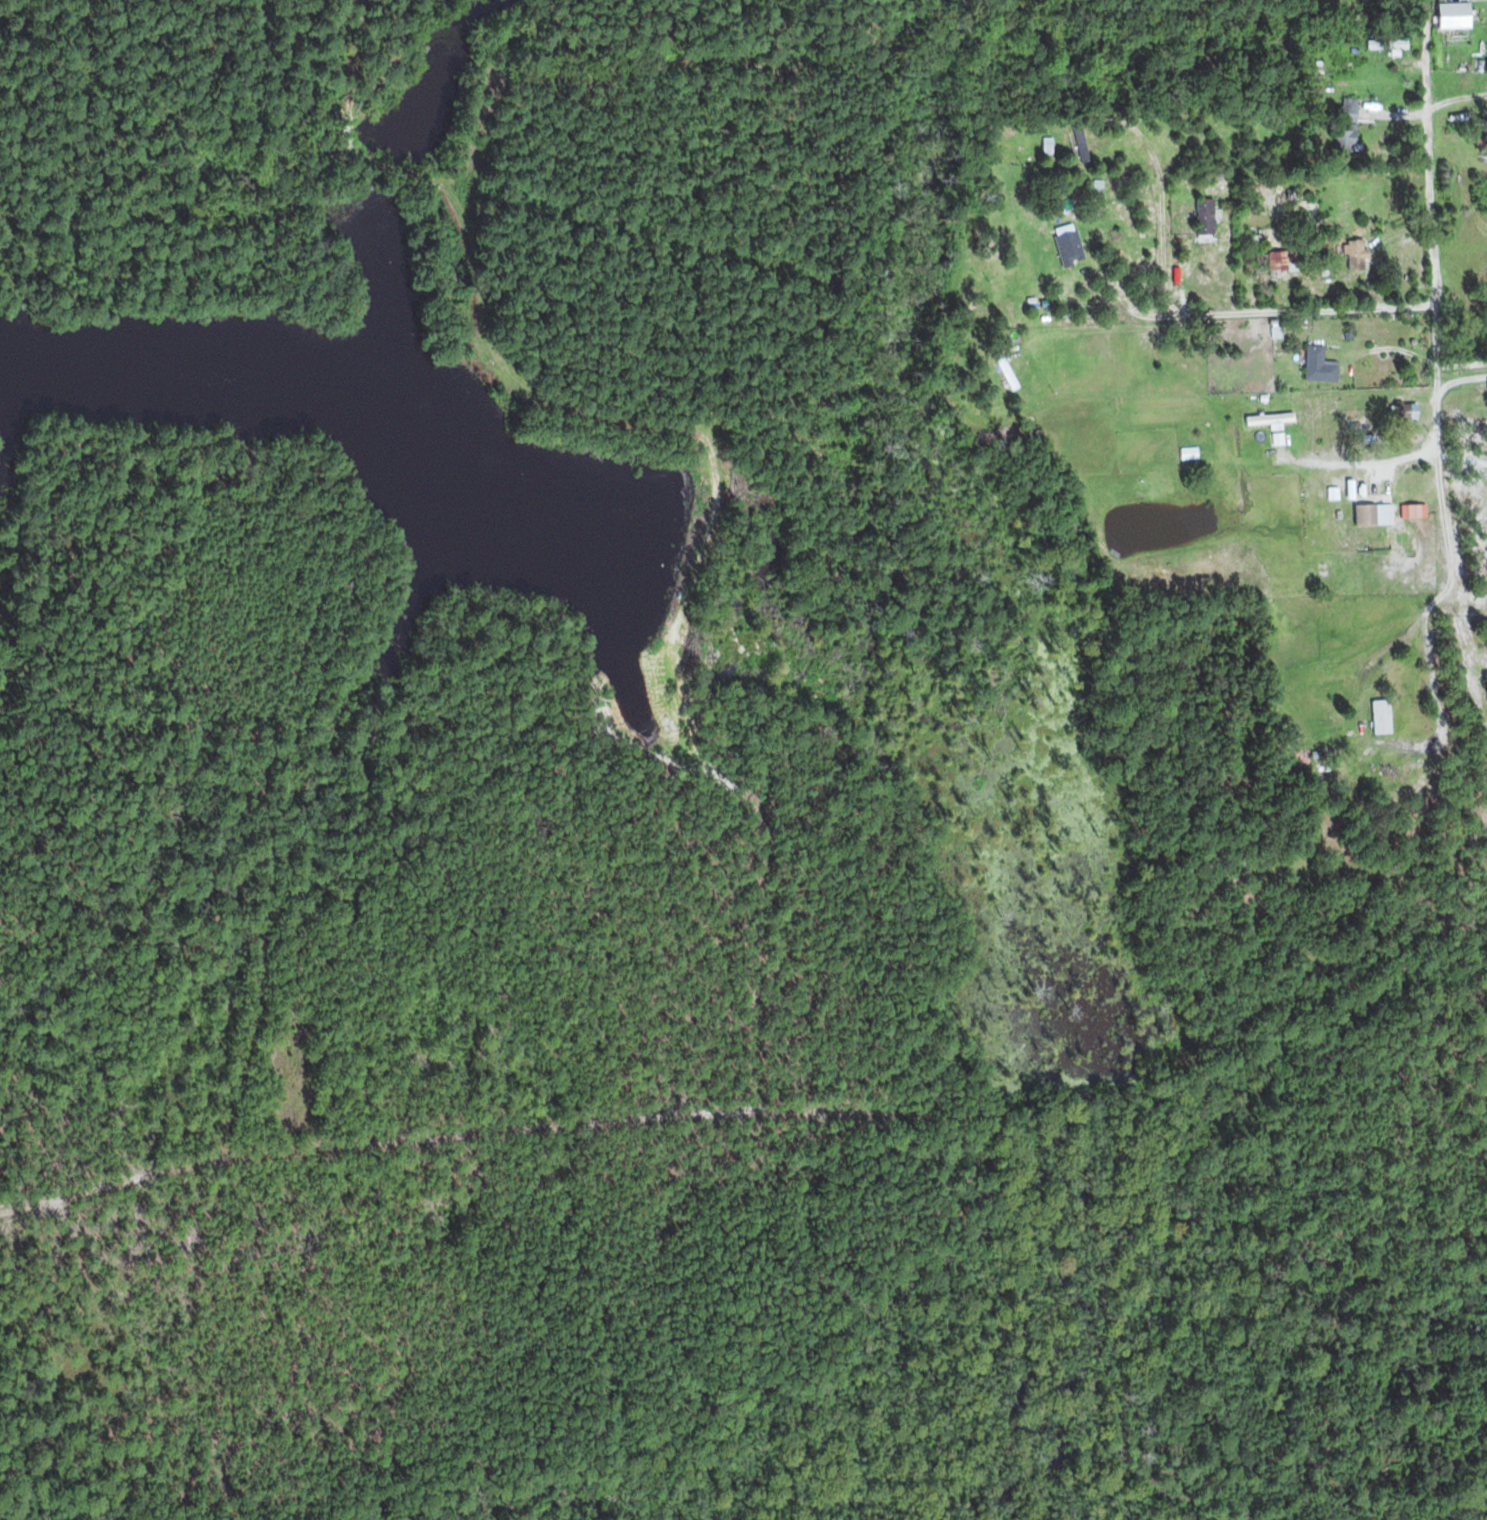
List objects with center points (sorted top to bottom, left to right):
building: (1457, 14)
building: (1388, 44)
building: (1351, 108)
building: (1348, 136)
building: (1081, 141)
building: (1207, 216)
building: (1359, 254)
building: (1282, 262)
road: (1204, 314)
road: (1435, 362)
building: (1320, 365)
building: (1008, 370)
building: (1406, 411)
building: (1271, 418)
building: (1189, 453)
building: (1371, 515)
building: (1403, 531)
building: (1383, 717)

